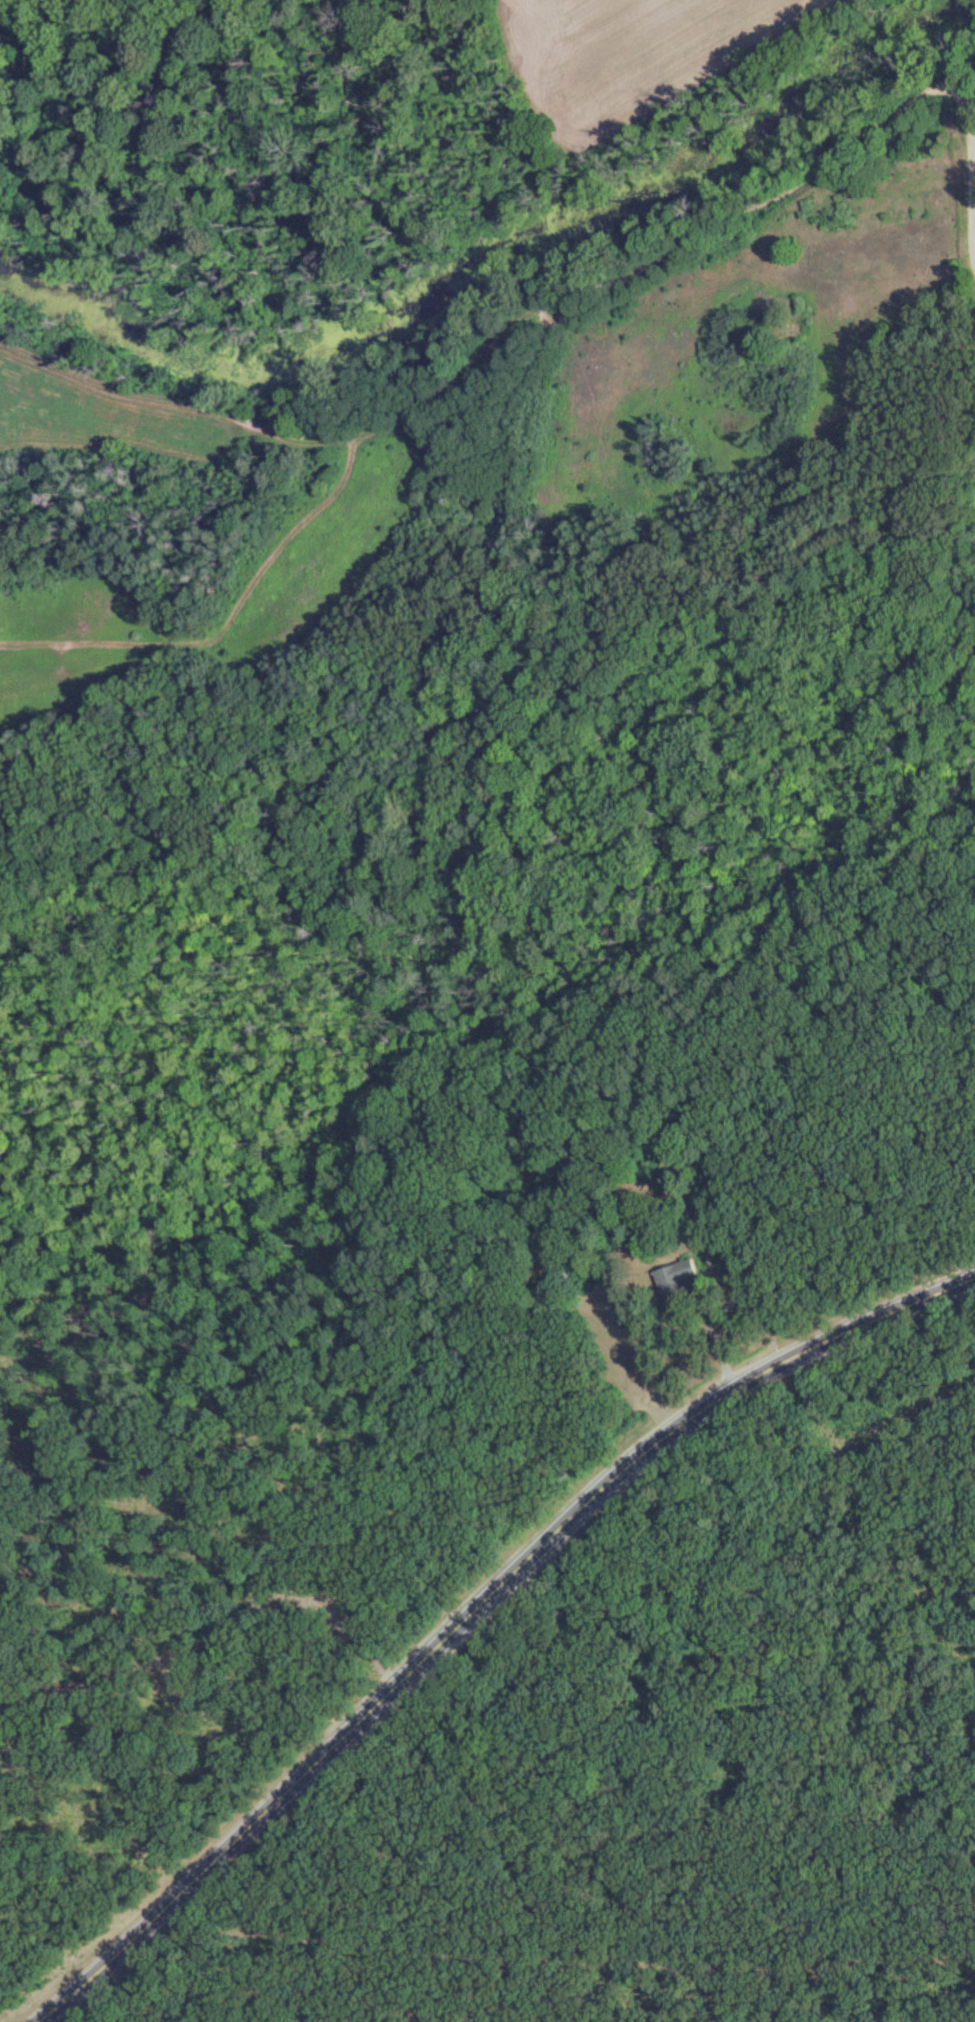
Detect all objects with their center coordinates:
road: (958, 118)
building: (569, 1271)
building: (679, 1278)
road: (718, 1335)
road: (477, 1608)
road: (209, 1637)

